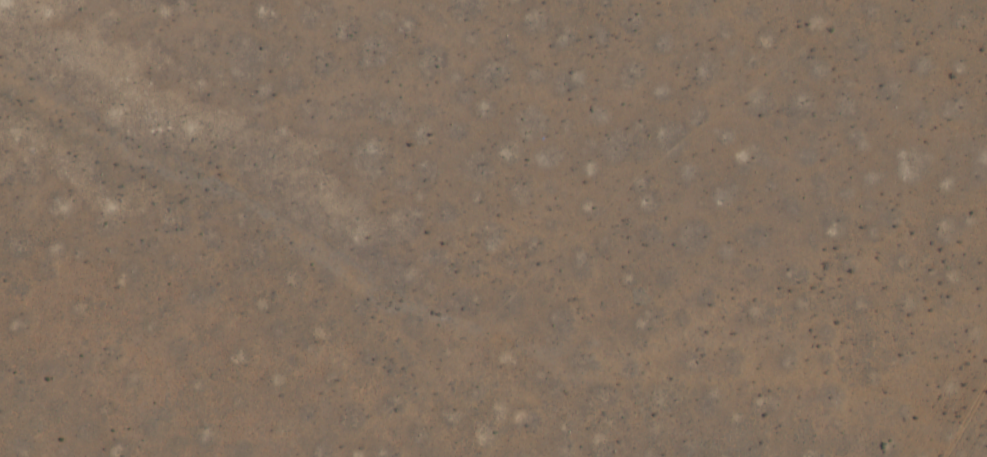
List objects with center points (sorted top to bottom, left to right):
road: (968, 426)

